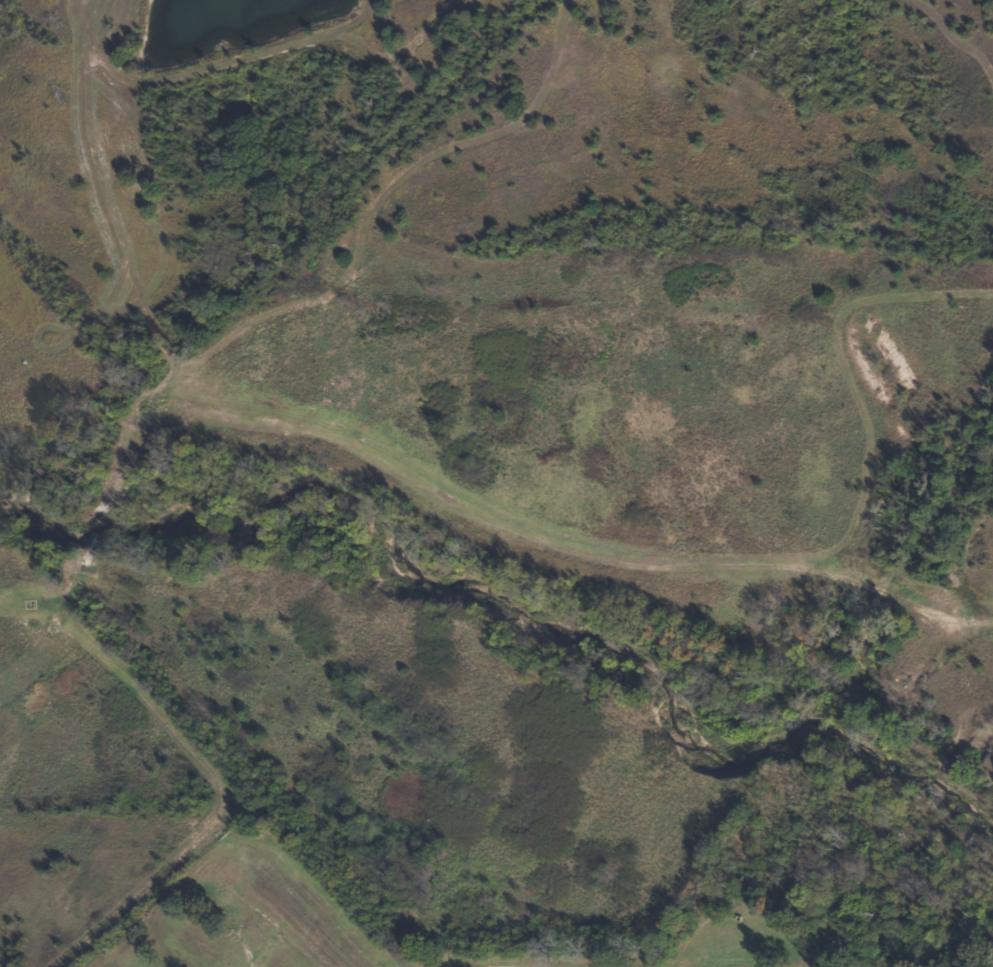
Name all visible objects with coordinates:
road: (616, 926)

